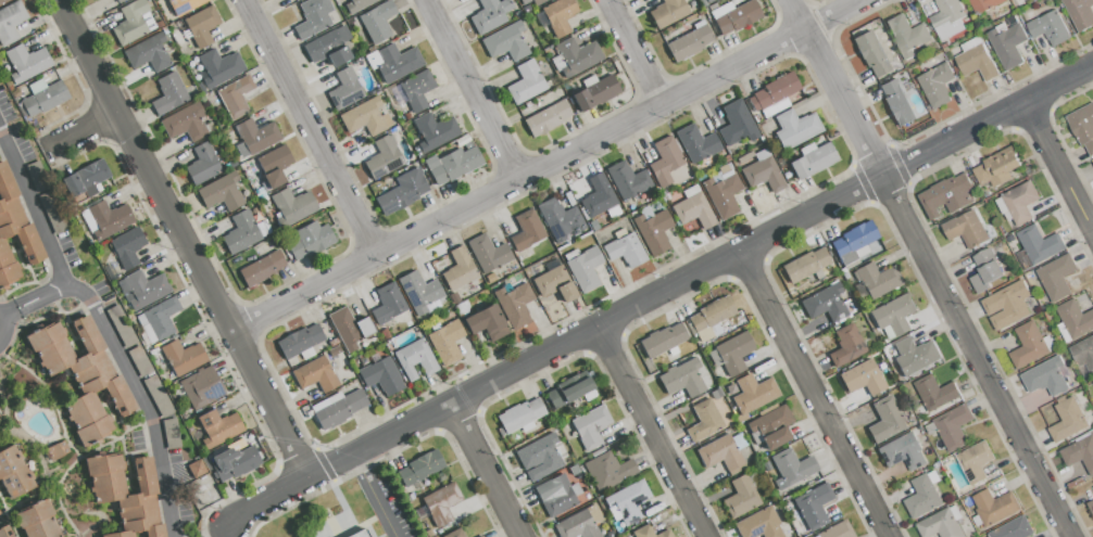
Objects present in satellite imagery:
building: (706, 0)
building: (2, 1)
building: (120, 1)
building: (536, 1)
building: (357, 4)
building: (982, 4)
building: (184, 5)
building: (527, 9)
building: (667, 12)
building: (1079, 12)
building: (490, 15)
building: (736, 16)
building: (315, 17)
building: (556, 17)
building: (946, 18)
building: (378, 21)
building: (11, 22)
building: (134, 22)
building: (160, 24)
building: (1047, 26)
building: (198, 27)
building: (165, 30)
building: (906, 35)
building: (506, 42)
building: (688, 42)
building: (1007, 44)
building: (330, 47)
road: (633, 52)
building: (148, 53)
building: (870, 54)
building: (576, 55)
building: (975, 60)
building: (393, 62)
building: (27, 63)
building: (356, 63)
building: (191, 64)
building: (218, 67)
building: (525, 82)
building: (935, 85)
building: (346, 89)
road: (474, 89)
building: (413, 90)
building: (593, 93)
building: (168, 94)
building: (772, 94)
building: (43, 97)
building: (236, 97)
building: (895, 102)
building: (407, 116)
building: (364, 117)
building: (546, 117)
building: (186, 123)
building: (736, 123)
road: (83, 126)
building: (409, 126)
road: (312, 127)
building: (1083, 127)
building: (794, 128)
building: (435, 131)
building: (256, 136)
building: (695, 143)
building: (384, 157)
building: (664, 159)
building: (812, 161)
road: (1059, 162)
building: (454, 163)
building: (1092, 163)
building: (202, 164)
road: (546, 164)
building: (275, 165)
building: (995, 167)
building: (762, 171)
building: (37, 177)
building: (252, 178)
building: (86, 179)
building: (626, 180)
building: (222, 192)
building: (402, 192)
building: (721, 192)
building: (260, 193)
building: (945, 194)
building: (596, 196)
building: (1019, 202)
building: (292, 206)
building: (692, 208)
building: (52, 212)
building: (106, 219)
building: (558, 219)
building: (965, 228)
building: (526, 230)
building: (14, 231)
building: (653, 231)
building: (244, 232)
building: (310, 240)
road: (186, 241)
building: (853, 243)
building: (1037, 244)
building: (127, 247)
building: (625, 250)
building: (488, 253)
building: (805, 265)
building: (262, 268)
building: (583, 268)
road: (931, 268)
building: (460, 269)
building: (985, 269)
building: (1055, 276)
road: (702, 277)
building: (876, 280)
building: (554, 283)
building: (142, 290)
building: (419, 292)
building: (454, 297)
road: (30, 299)
building: (388, 304)
building: (515, 304)
building: (824, 304)
building: (1006, 304)
building: (709, 314)
building: (892, 316)
building: (1073, 318)
building: (159, 320)
building: (120, 321)
building: (488, 322)
road: (1, 328)
building: (350, 328)
road: (103, 329)
building: (662, 340)
building: (447, 341)
building: (301, 342)
building: (334, 343)
building: (1027, 344)
building: (845, 345)
building: (732, 353)
building: (1083, 354)
building: (913, 355)
building: (138, 357)
building: (156, 357)
building: (183, 357)
building: (415, 359)
building: (364, 360)
building: (163, 369)
building: (315, 374)
building: (1044, 375)
building: (83, 376)
building: (381, 376)
building: (860, 378)
building: (681, 379)
building: (202, 387)
building: (567, 389)
building: (934, 392)
building: (752, 393)
building: (159, 396)
road: (817, 396)
building: (338, 408)
building: (520, 415)
building: (1066, 419)
building: (703, 420)
building: (884, 420)
building: (952, 425)
building: (590, 426)
building: (770, 426)
building: (218, 427)
road: (658, 432)
building: (172, 433)
building: (56, 451)
building: (902, 451)
building: (1079, 452)
building: (720, 453)
building: (539, 457)
building: (973, 460)
building: (235, 463)
building: (791, 466)
building: (422, 468)
building: (197, 469)
building: (606, 471)
road: (487, 472)
building: (14, 473)
building: (441, 477)
building: (554, 495)
building: (921, 496)
building: (125, 497)
building: (739, 497)
road: (373, 498)
building: (626, 501)
building: (441, 503)
road: (269, 504)
building: (812, 506)
building: (994, 506)
building: (1090, 506)
building: (38, 521)
building: (758, 524)
building: (939, 524)
building: (576, 525)
building: (1013, 528)
building: (836, 530)
building: (5, 532)
road: (228, 532)
building: (649, 532)
building: (360, 534)
building: (455, 534)
building: (480, 536)

